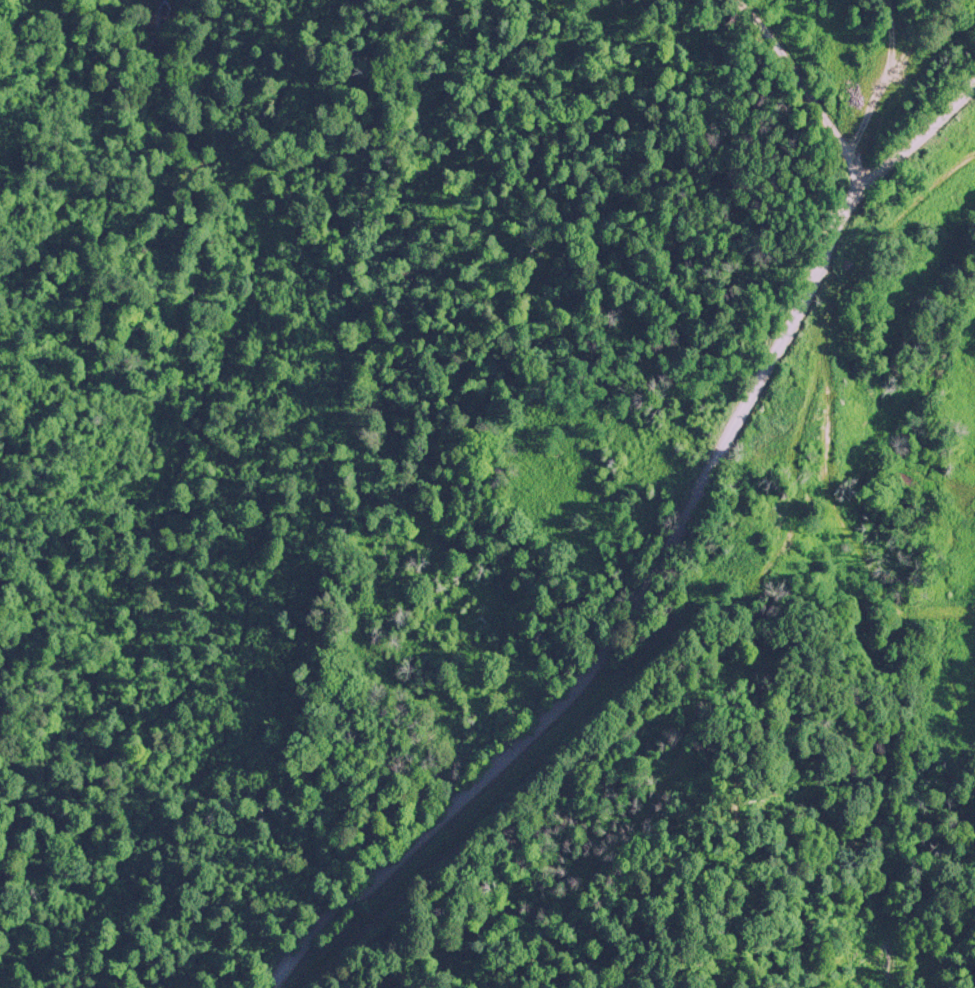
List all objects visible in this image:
road: (663, 560)

